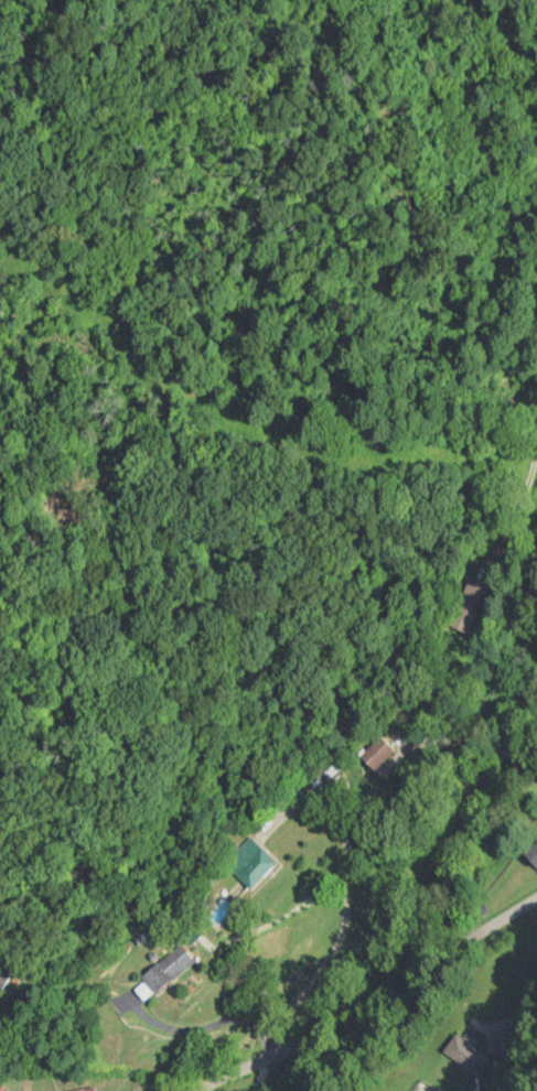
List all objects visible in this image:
building: (468, 606)
building: (375, 754)
building: (531, 856)
building: (248, 863)
building: (165, 968)
building: (3, 976)
road: (375, 1009)
building: (463, 1051)

